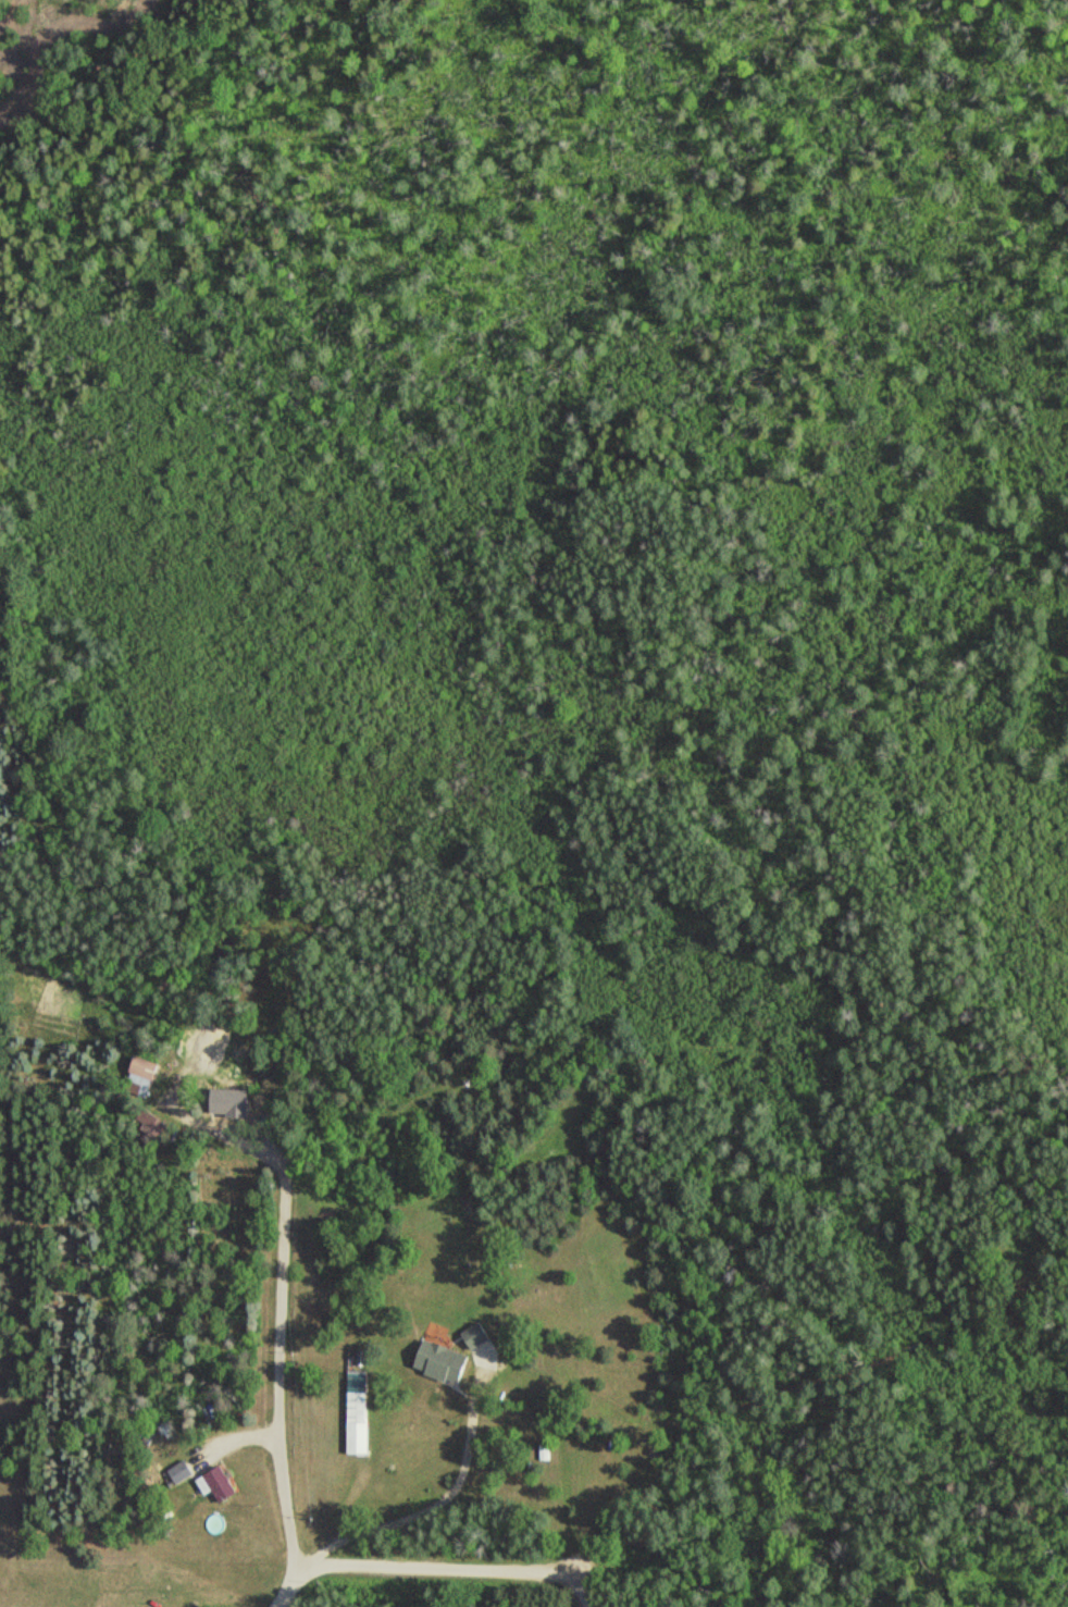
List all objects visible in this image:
building: (145, 1071)
building: (476, 1335)
road: (270, 1338)
building: (443, 1361)
building: (358, 1413)
building: (181, 1471)
building: (218, 1483)
road: (447, 1566)
road: (287, 1591)

